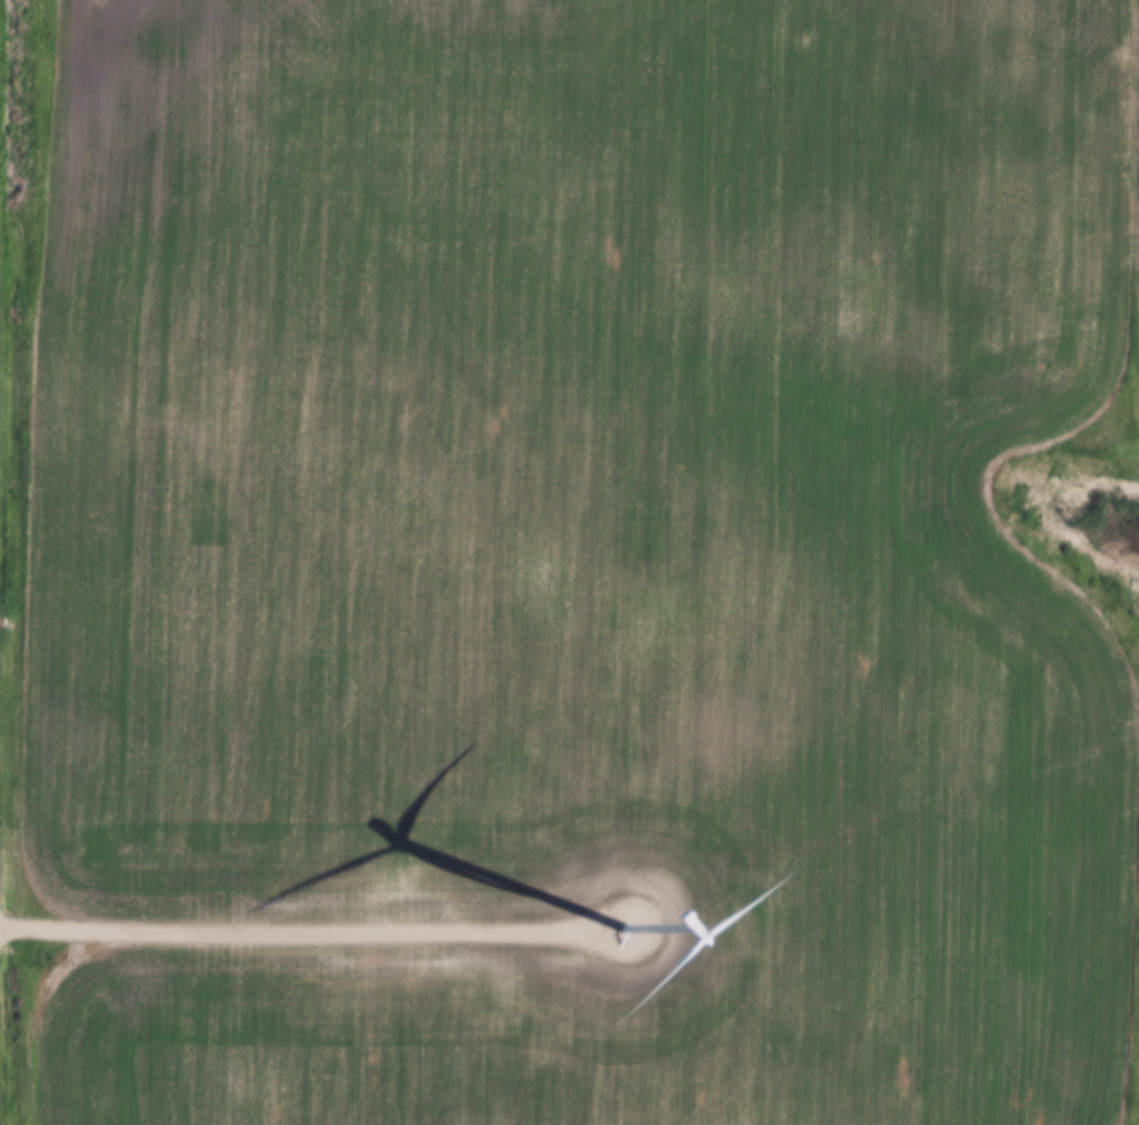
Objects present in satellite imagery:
wind turbine: (617, 924)

